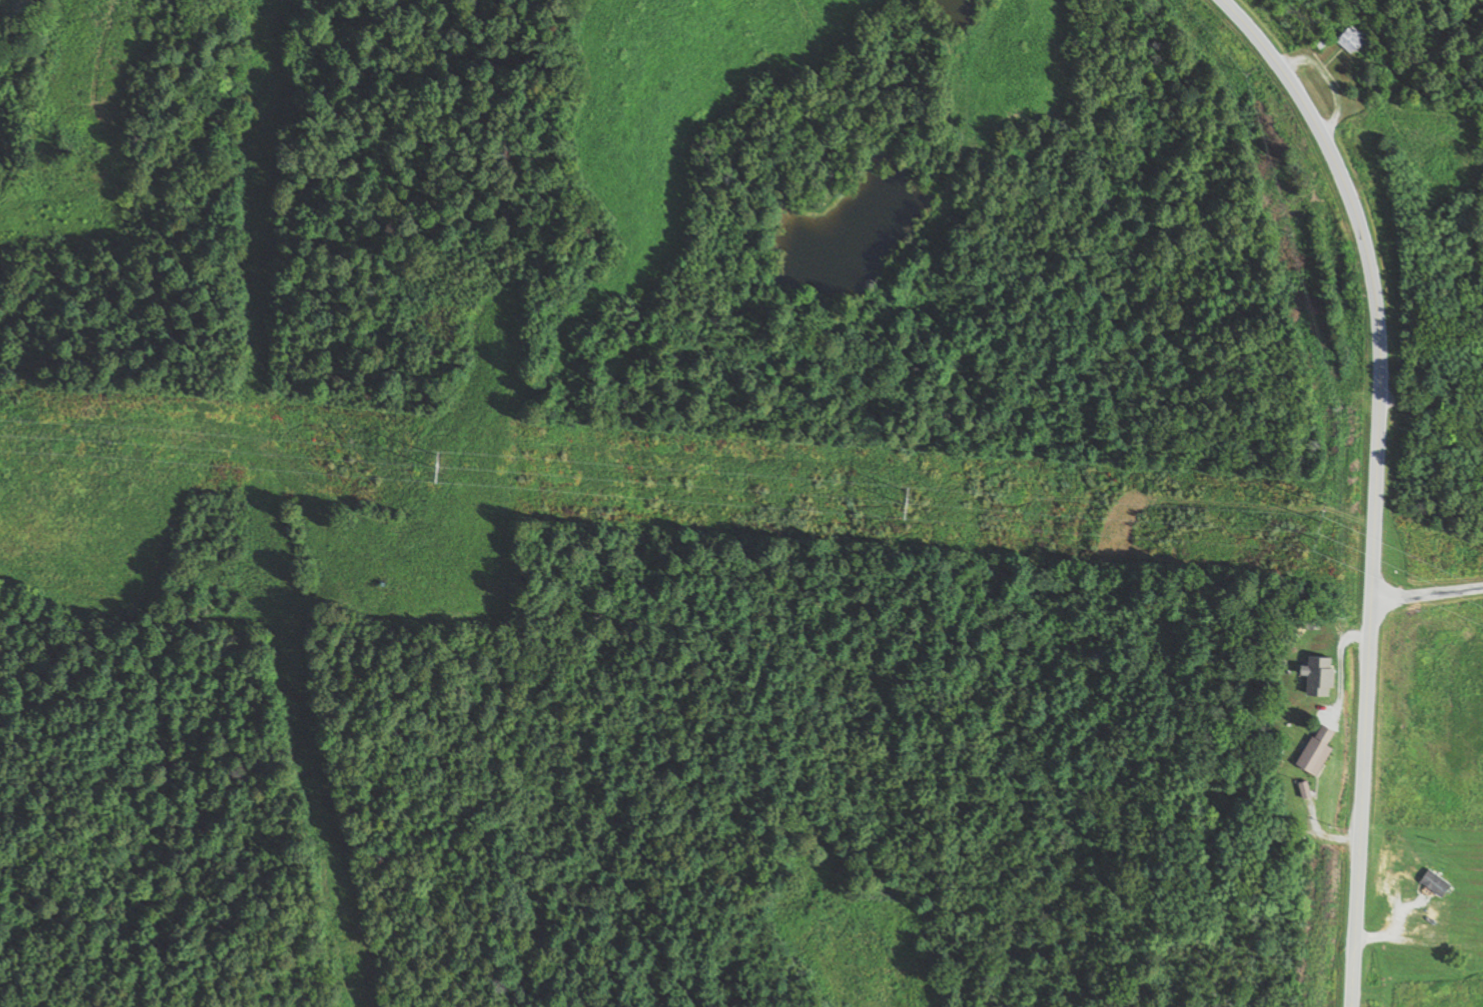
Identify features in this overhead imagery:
building: (1353, 4)
building: (1354, 39)
power tower: (445, 461)
road: (1375, 482)
power tower: (912, 499)
power tower: (1326, 518)
road: (1426, 593)
building: (1324, 674)
building: (1322, 749)
building: (1440, 883)

